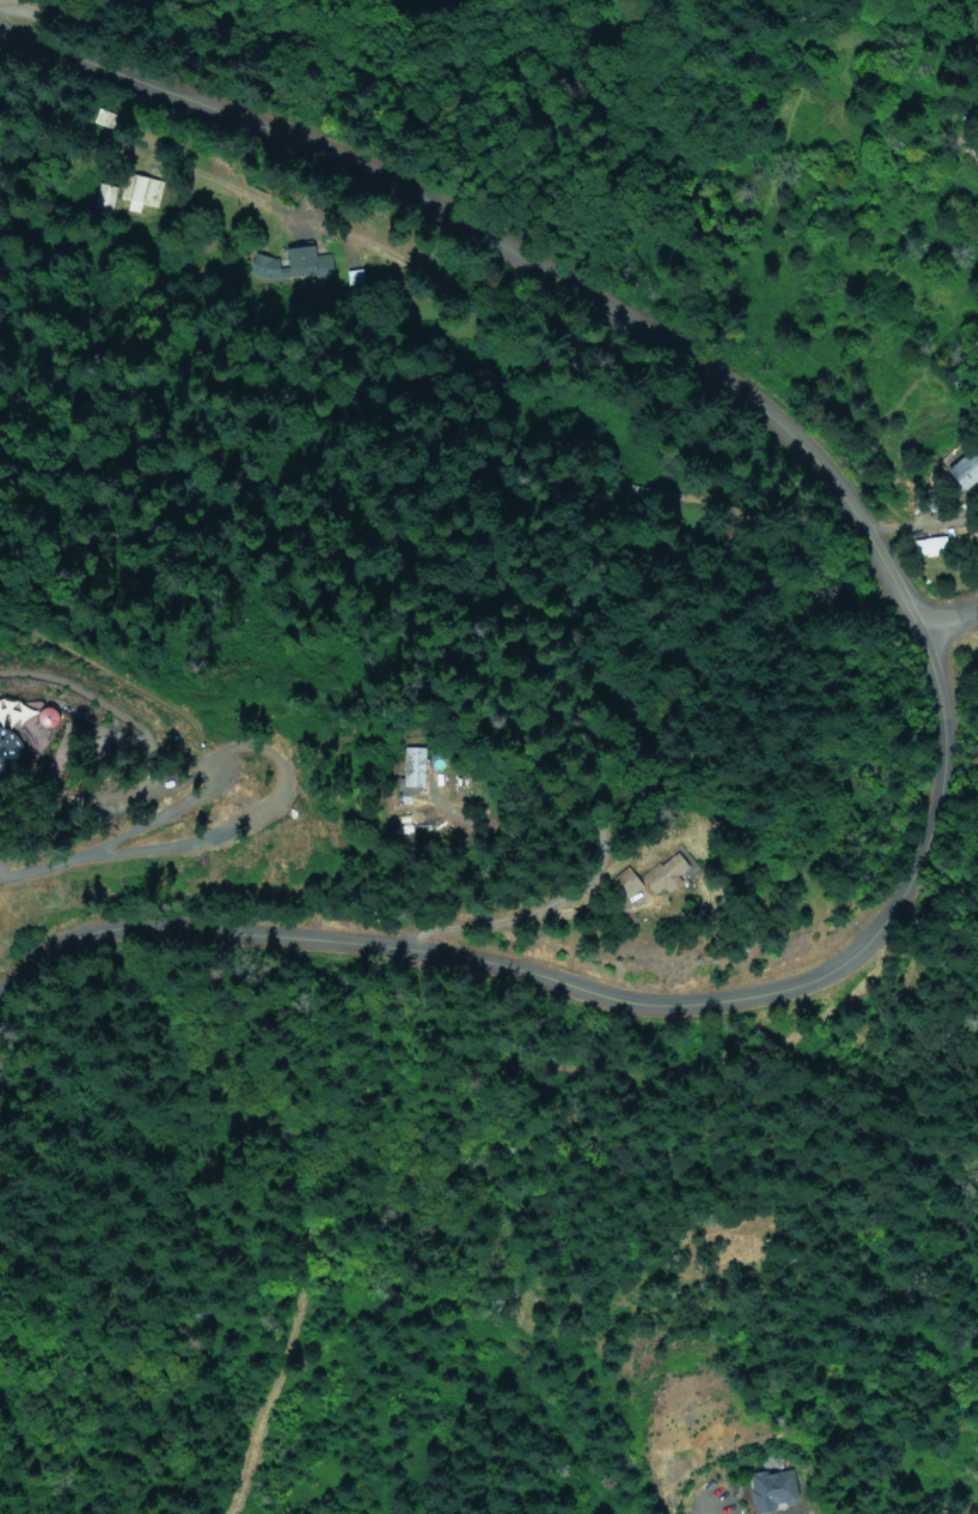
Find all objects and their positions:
building: (103, 120)
building: (138, 192)
building: (103, 197)
road: (477, 224)
building: (293, 264)
building: (354, 279)
building: (964, 469)
building: (927, 547)
road: (901, 597)
road: (954, 630)
building: (36, 729)
building: (411, 764)
building: (99, 810)
building: (405, 818)
road: (201, 838)
building: (650, 875)
road: (504, 917)
road: (582, 985)
building: (771, 1489)
road: (707, 1507)

